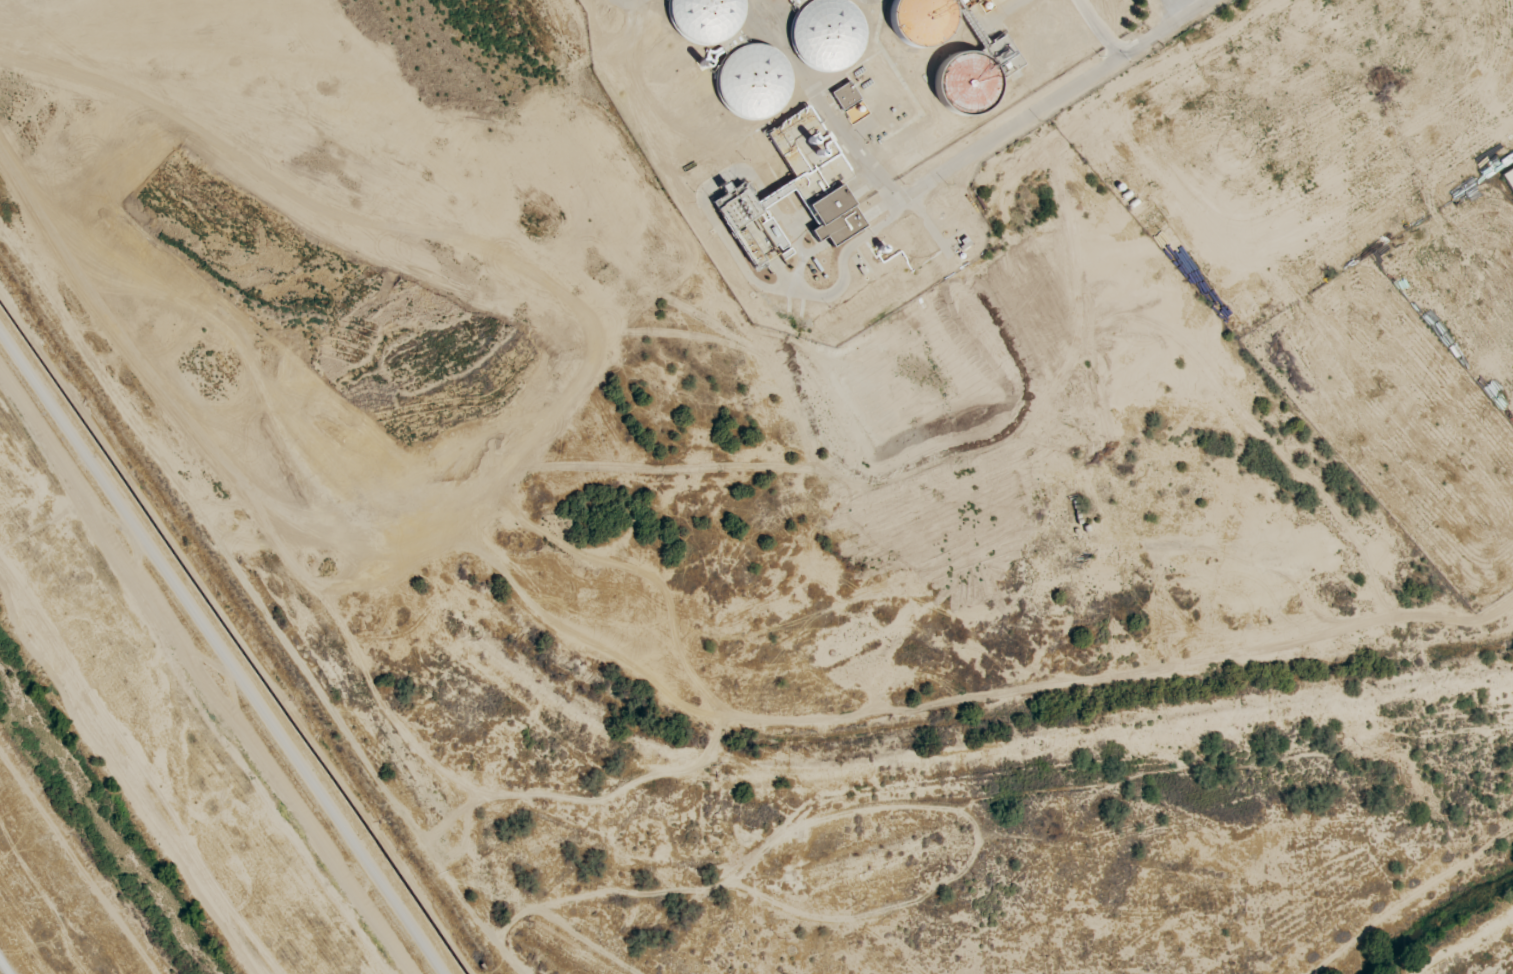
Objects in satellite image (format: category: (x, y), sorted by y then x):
building: (703, 18)
building: (921, 21)
road: (1170, 29)
building: (826, 34)
building: (975, 75)
building: (752, 80)
building: (845, 94)
wastewater plant: (833, 133)
road: (973, 157)
building: (795, 189)
river: (105, 823)
road: (3, 968)

